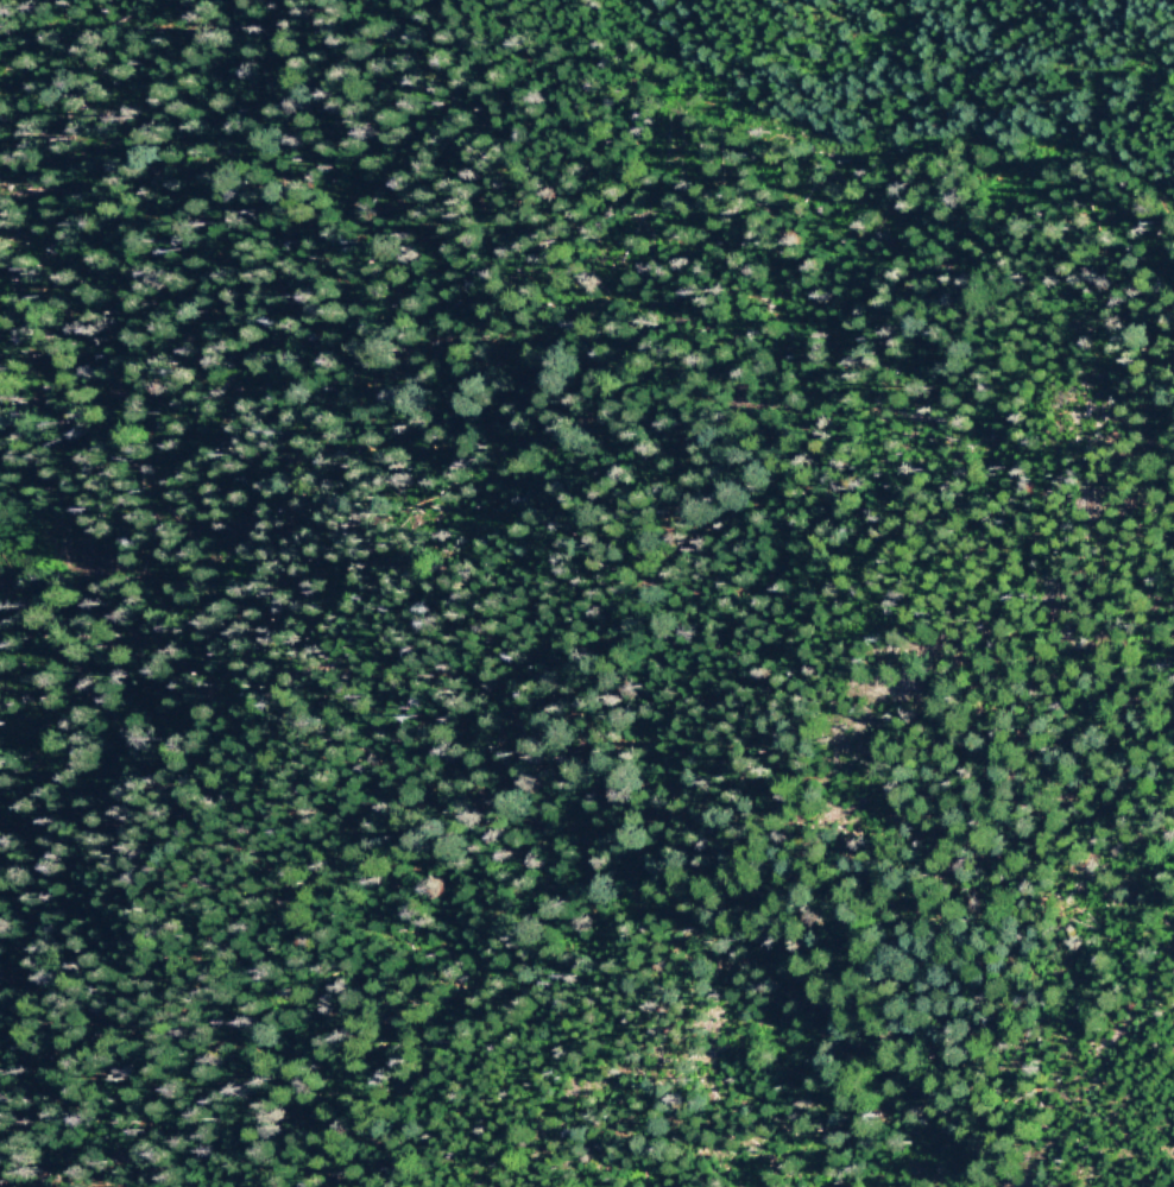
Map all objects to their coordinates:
road: (36, 38)
road: (69, 936)

